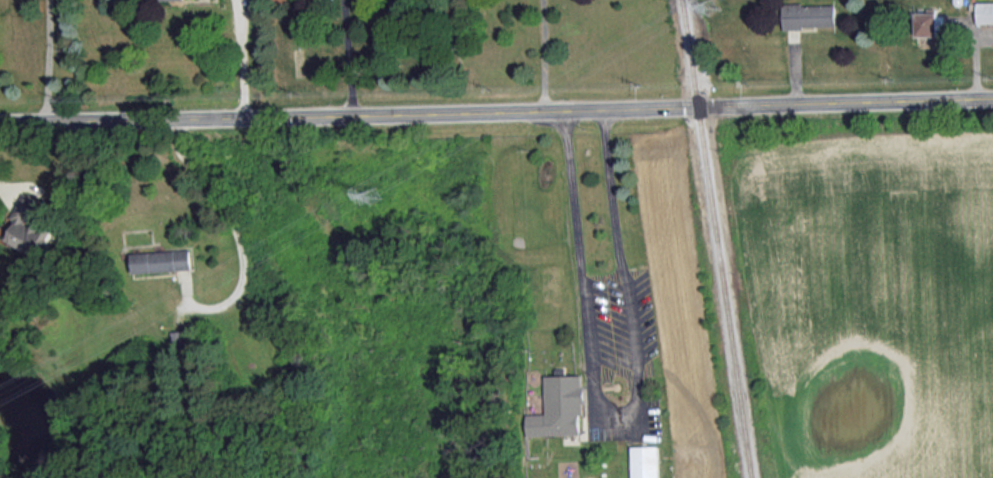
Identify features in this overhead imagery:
power tower: (712, 5)
building: (985, 11)
building: (808, 16)
building: (928, 23)
road: (547, 55)
road: (48, 57)
road: (352, 58)
road: (245, 59)
road: (914, 103)
road: (768, 108)
road: (624, 110)
road: (274, 117)
power tower: (373, 194)
building: (29, 226)
road: (239, 234)
railway: (718, 238)
building: (164, 260)
building: (182, 339)
building: (561, 407)
road: (622, 409)
building: (646, 461)

